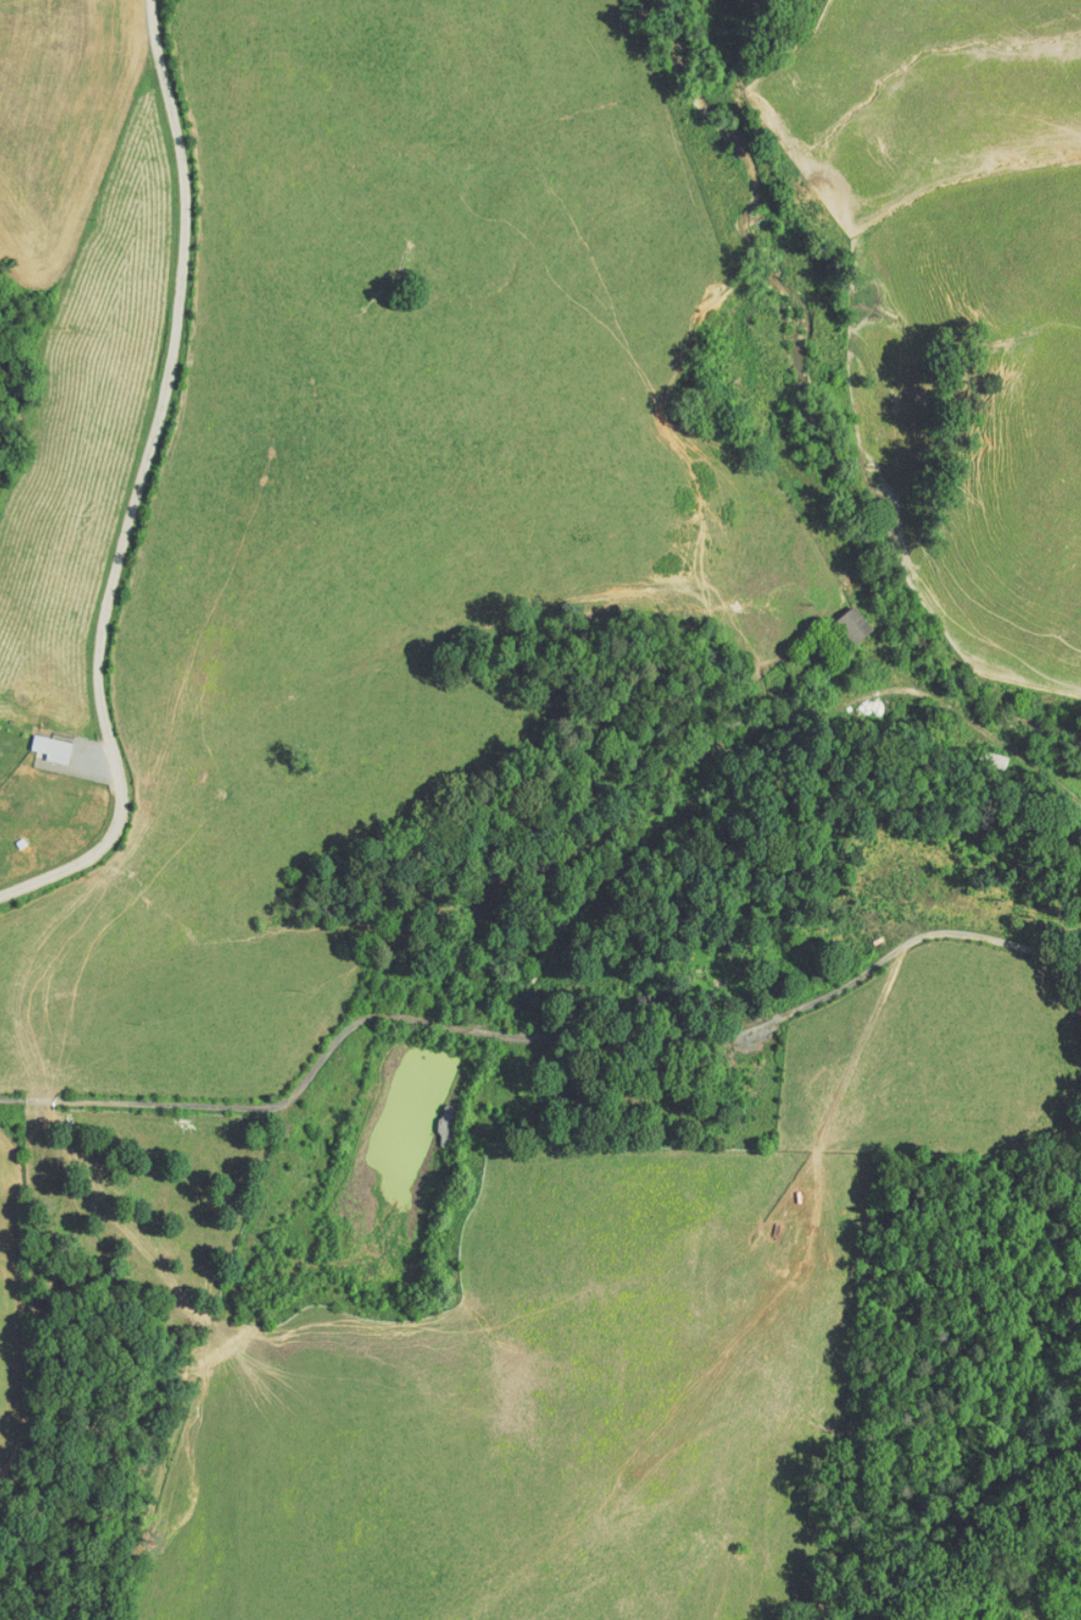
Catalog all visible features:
road: (129, 473)
building: (840, 616)
building: (39, 741)

